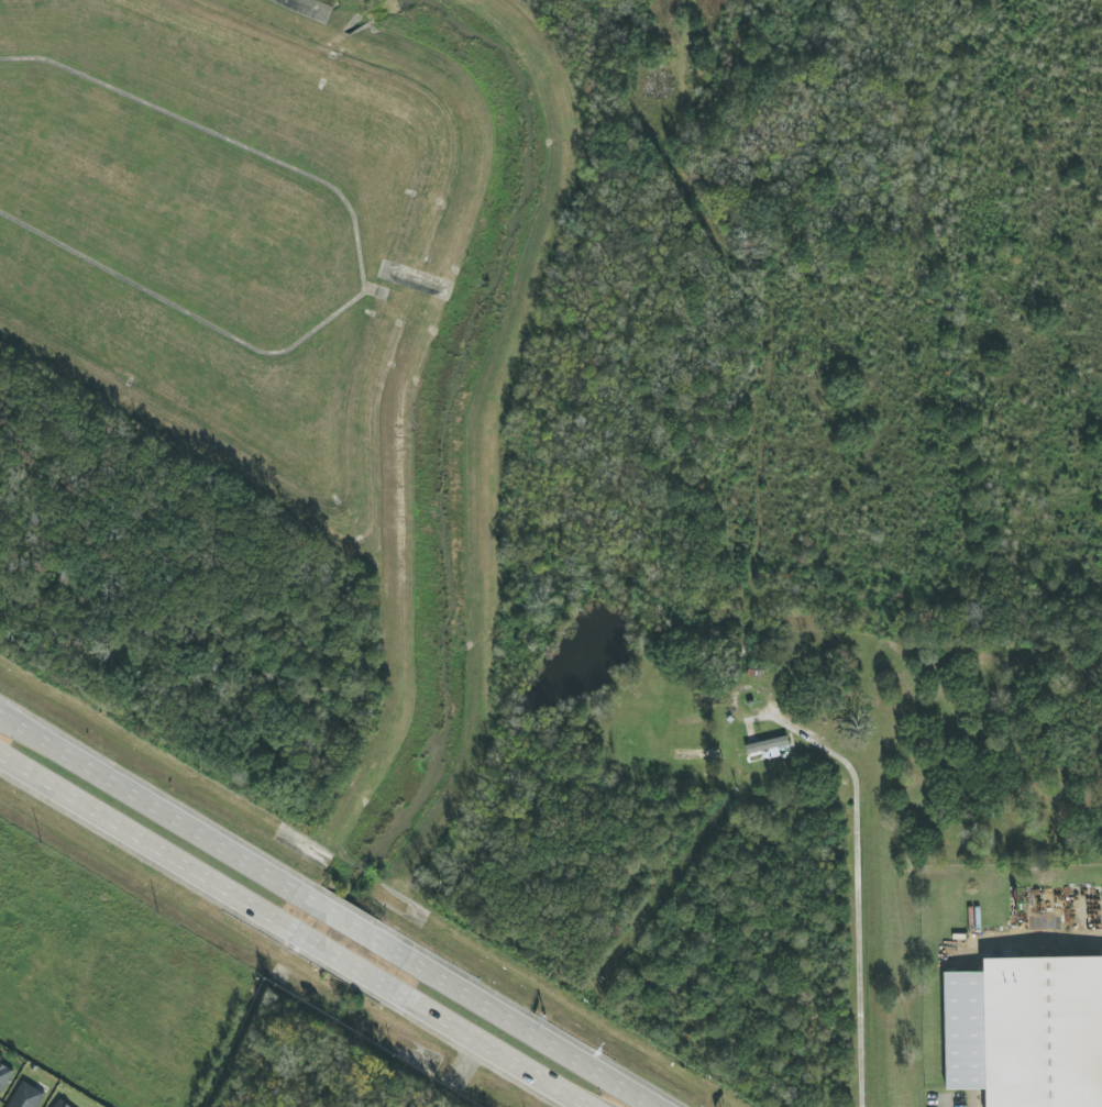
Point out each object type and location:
building: (770, 749)
building: (696, 754)
road: (163, 815)
road: (162, 854)
road: (853, 878)
road: (350, 927)
road: (350, 966)
road: (511, 1025)
building: (1026, 1031)
road: (480, 1044)
building: (0, 1058)
building: (4, 1077)
building: (26, 1096)
building: (62, 1104)
road: (944, 1104)

